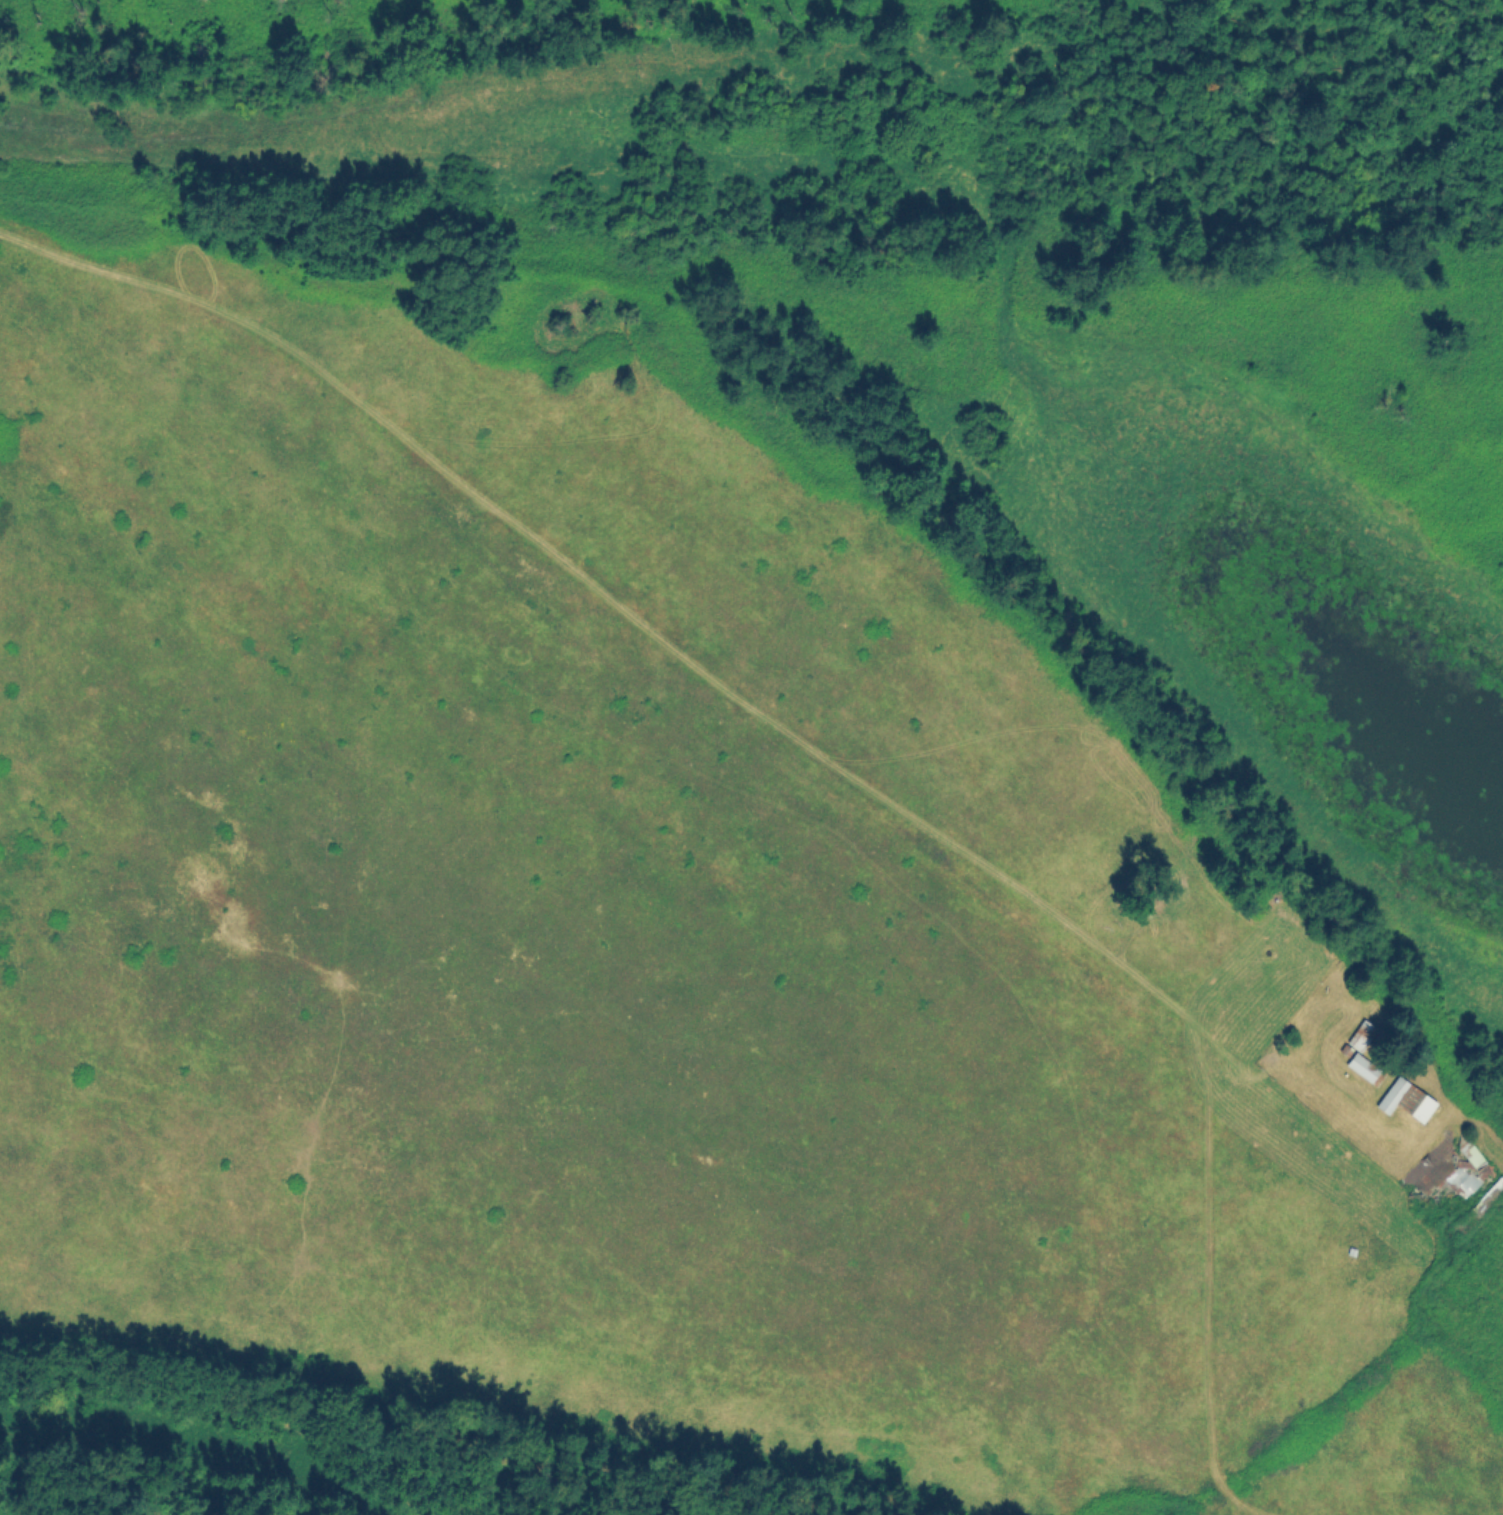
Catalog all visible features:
building: (1360, 1034)
building: (1345, 1049)
building: (1364, 1066)
building: (1406, 1098)
building: (1461, 1182)
building: (1350, 1249)

